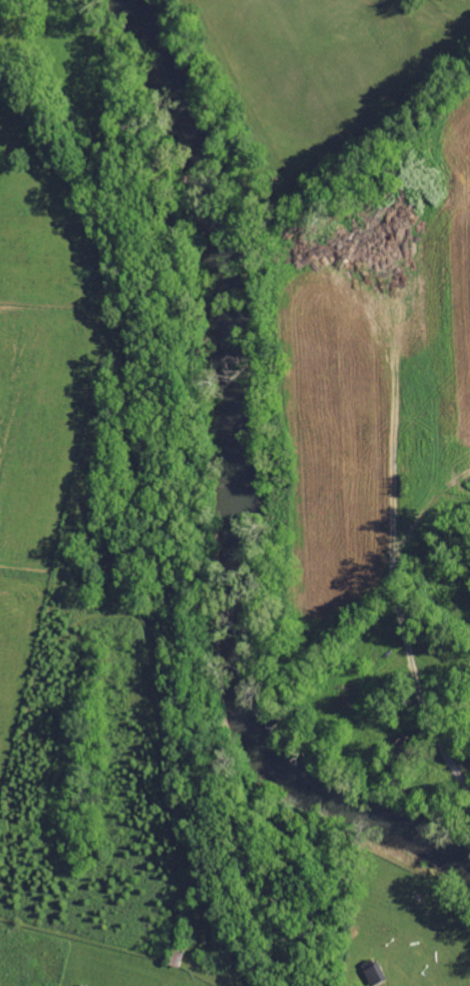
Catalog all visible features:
river: (259, 493)
road: (438, 735)

